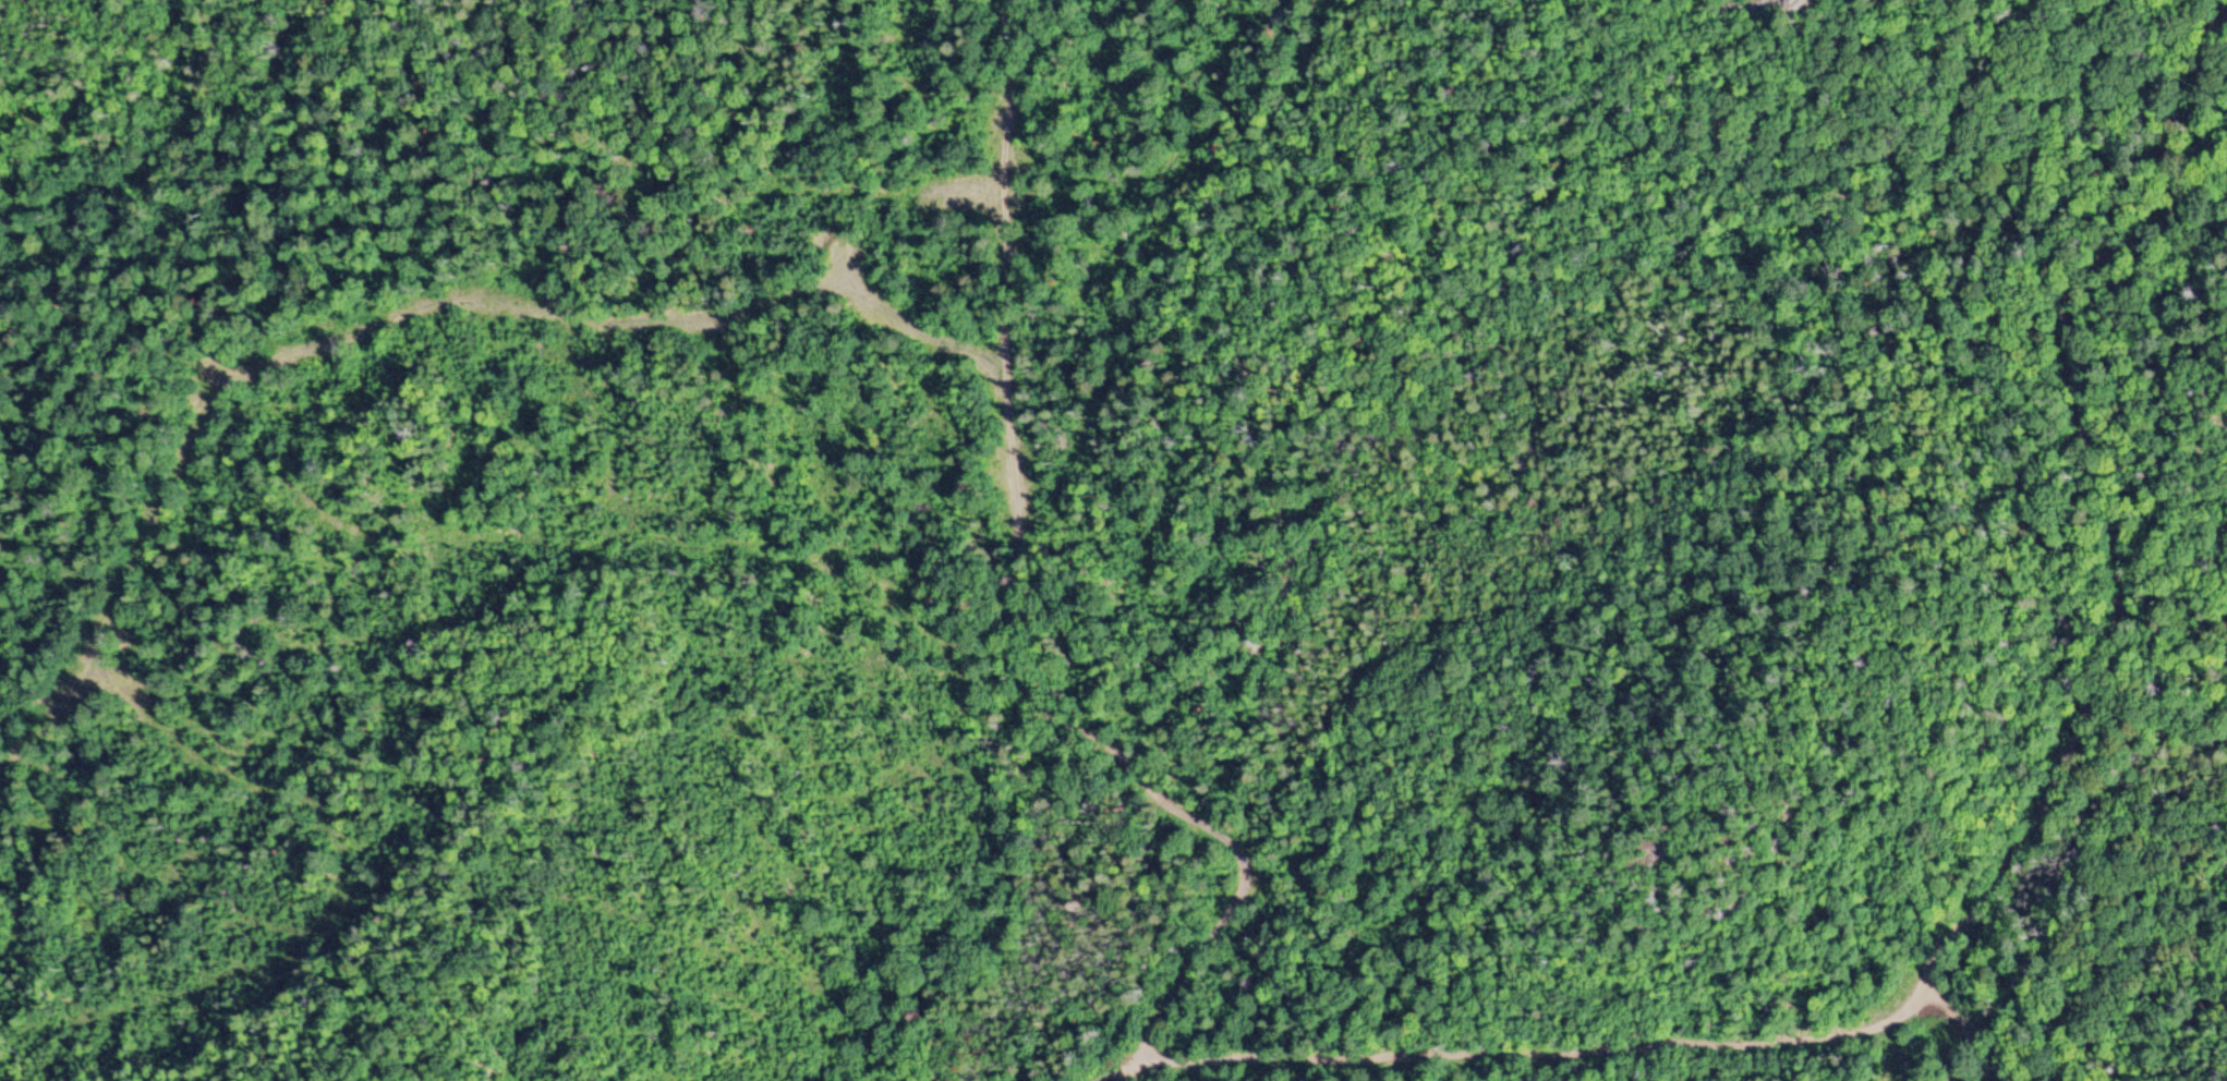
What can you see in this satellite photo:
road: (1984, 885)

